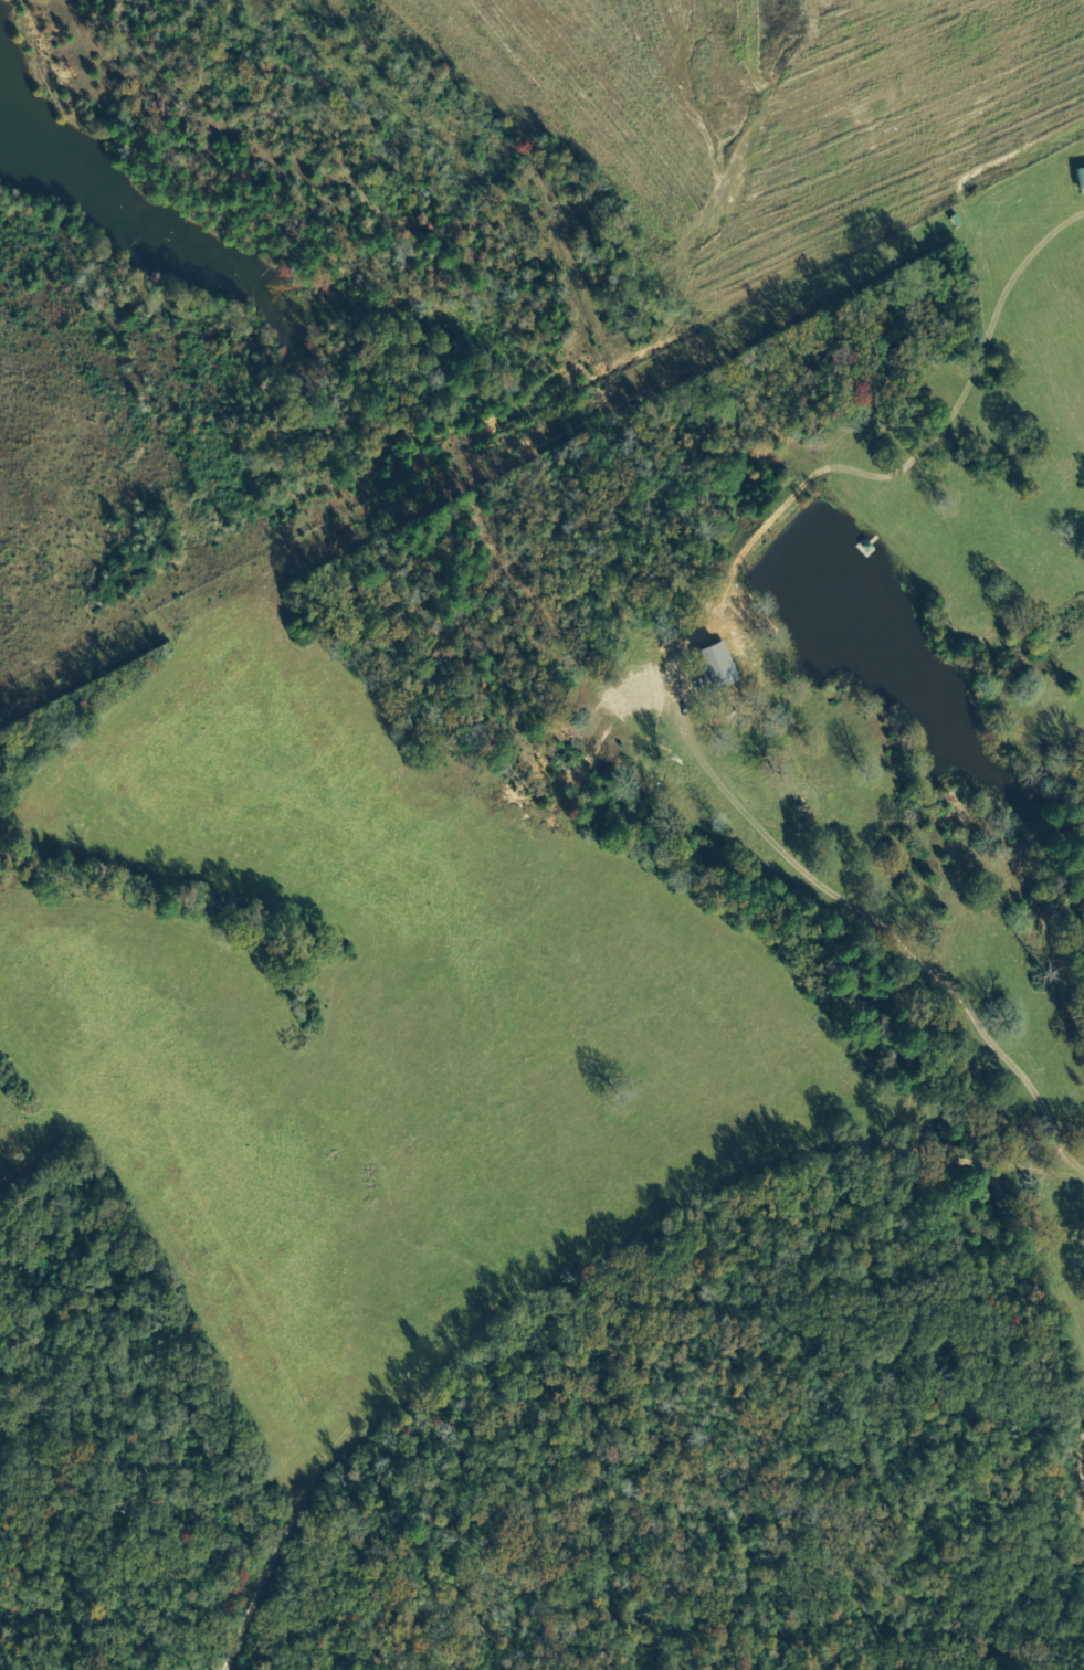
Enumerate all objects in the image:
building: (722, 665)

